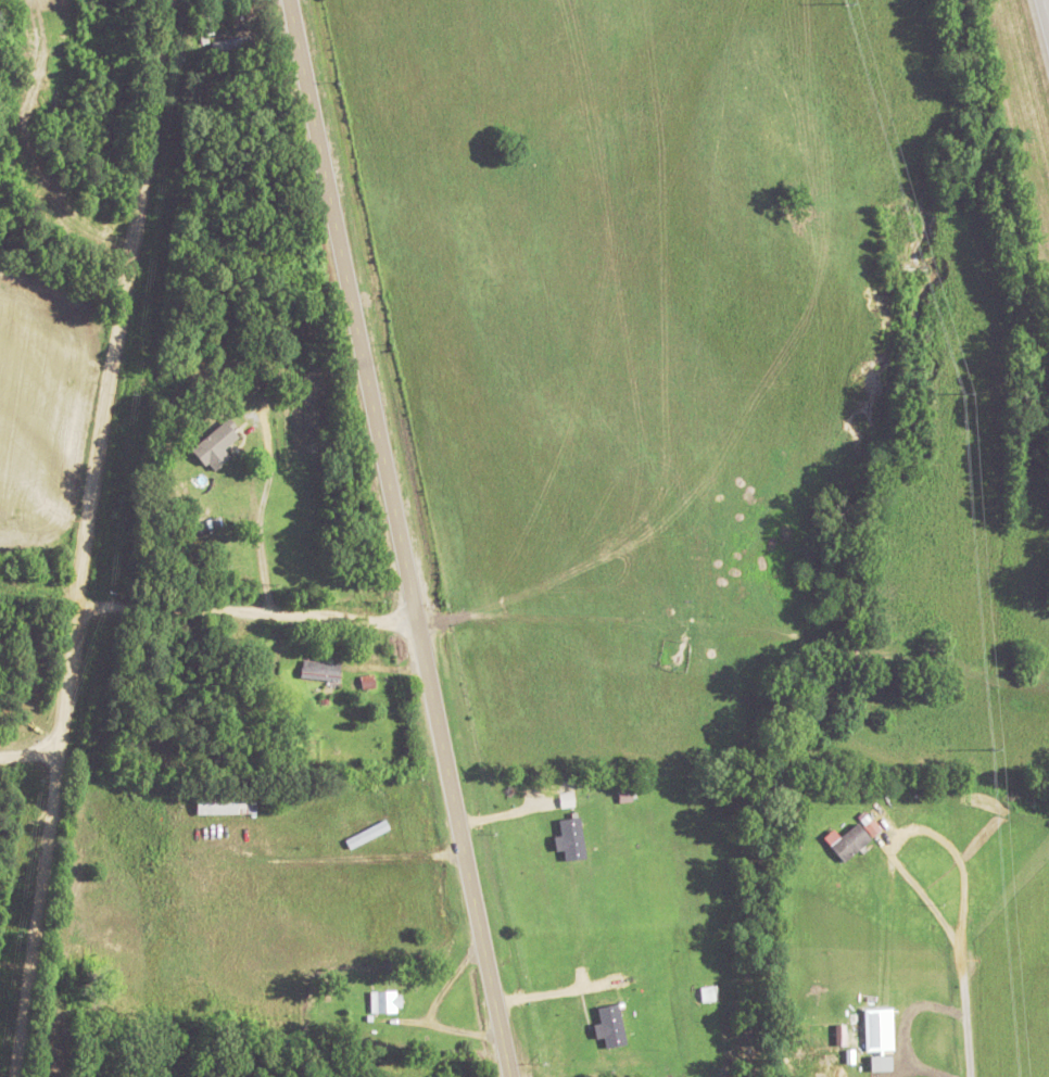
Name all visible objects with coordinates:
power tower: (847, 0)
road: (1045, 14)
building: (205, 25)
building: (231, 47)
road: (121, 302)
power tower: (964, 392)
building: (227, 490)
road: (397, 538)
road: (244, 611)
building: (320, 670)
power tower: (993, 748)
road: (28, 752)
building: (390, 794)
building: (223, 803)
road: (45, 840)
building: (387, 1000)
road: (960, 1009)
road: (899, 1028)

